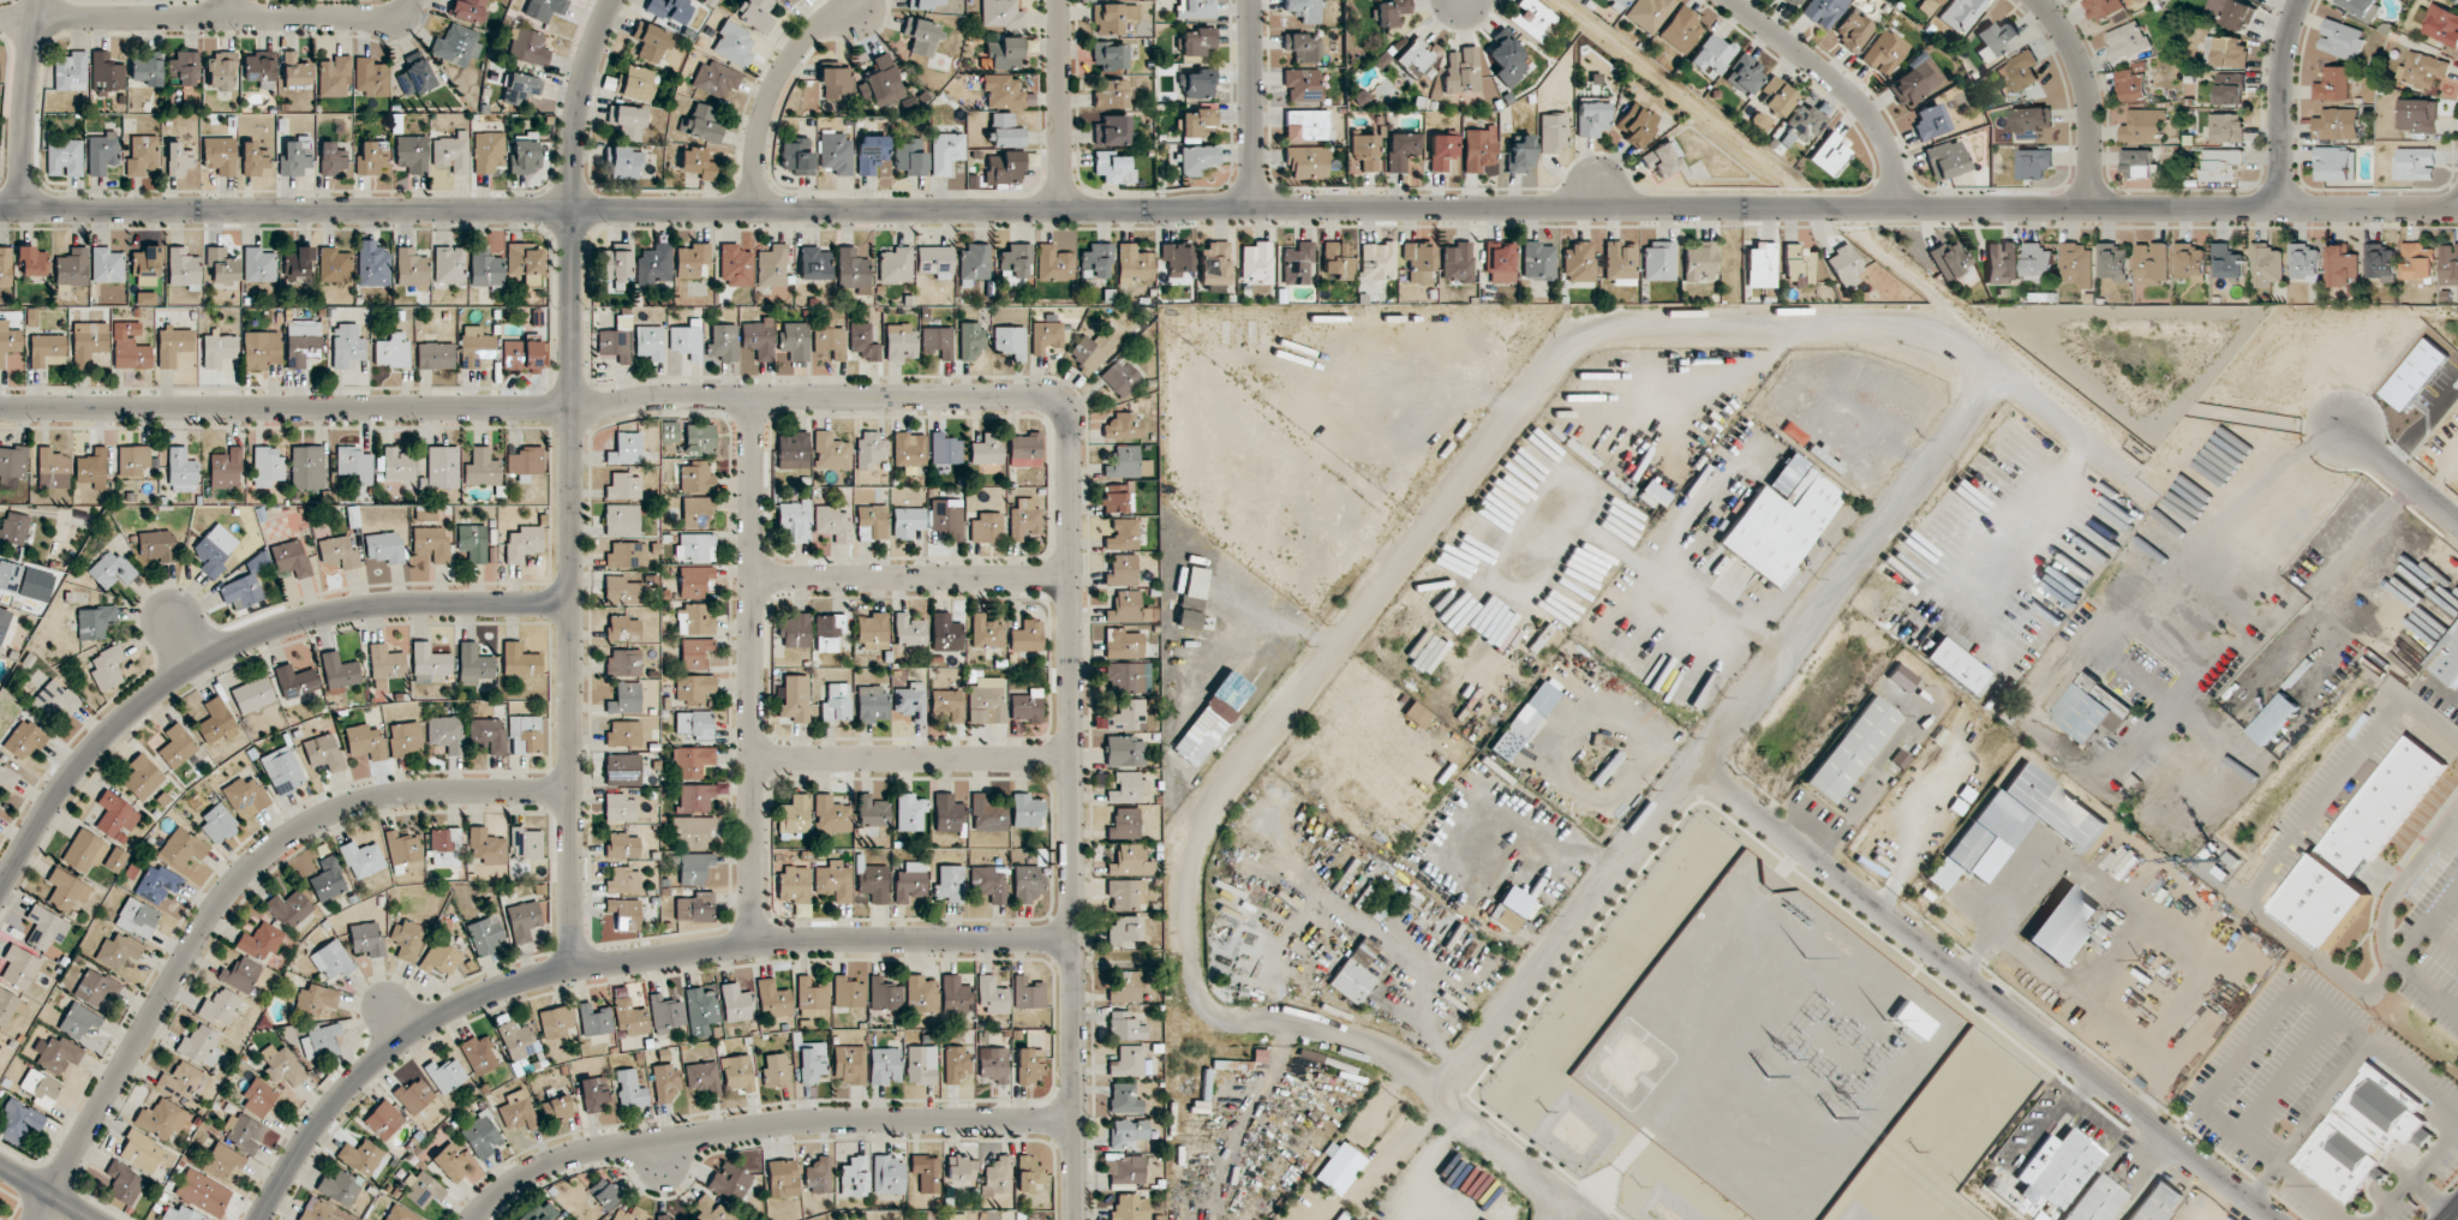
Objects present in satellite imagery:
building: (791, 1)
building: (1794, 1)
building: (923, 4)
building: (1619, 4)
building: (1927, 6)
building: (544, 8)
building: (670, 8)
building: (1196, 8)
building: (2105, 8)
building: (2362, 8)
road: (226, 10)
building: (468, 10)
building: (1303, 10)
building: (1823, 11)
building: (1392, 12)
building: (2232, 12)
building: (1001, 13)
building: (1649, 13)
building: (1961, 13)
building: (756, 14)
building: (1112, 17)
building: (1531, 18)
road: (213, 19)
building: (2441, 25)
building: (1681, 29)
building: (1853, 31)
building: (921, 36)
building: (1996, 40)
building: (2342, 40)
building: (1197, 41)
building: (2128, 41)
building: (650, 42)
building: (457, 44)
building: (734, 44)
building: (527, 47)
building: (1302, 47)
building: (1884, 50)
building: (2231, 52)
building: (1005, 53)
building: (1711, 55)
building: (1111, 56)
building: (1415, 56)
building: (1507, 60)
building: (185, 67)
building: (259, 68)
building: (221, 70)
building: (1461, 70)
building: (2423, 70)
building: (71, 71)
building: (146, 71)
building: (106, 72)
building: (2019, 73)
building: (415, 74)
building: (1745, 74)
building: (335, 76)
building: (371, 77)
building: (716, 79)
building: (881, 82)
building: (1915, 82)
building: (634, 83)
building: (836, 83)
building: (1197, 84)
building: (1302, 84)
road: (1841, 84)
building: (2336, 84)
building: (2133, 85)
building: (520, 86)
building: (2231, 89)
building: (1003, 91)
road: (783, 92)
building: (1110, 94)
building: (1776, 96)
road: (2086, 96)
road: (23, 102)
road: (1060, 103)
road: (1251, 103)
road: (2281, 103)
building: (2417, 115)
building: (1591, 119)
building: (627, 120)
building: (2031, 120)
building: (1802, 121)
building: (1930, 122)
building: (701, 124)
building: (1635, 124)
building: (2337, 124)
building: (1306, 125)
building: (2143, 126)
building: (2227, 127)
building: (1006, 131)
building: (1112, 131)
building: (1553, 133)
building: (1403, 150)
building: (1479, 150)
building: (488, 151)
building: (946, 151)
building: (1364, 151)
building: (1442, 151)
building: (102, 152)
building: (451, 152)
building: (835, 152)
building: (412, 154)
building: (525, 154)
building: (871, 154)
building: (1829, 154)
building: (142, 155)
building: (220, 155)
building: (796, 155)
building: (1520, 155)
building: (295, 156)
building: (910, 156)
building: (64, 157)
building: (331, 159)
building: (372, 159)
building: (1197, 159)
building: (178, 160)
building: (253, 160)
building: (1661, 160)
building: (1946, 160)
building: (623, 162)
building: (1305, 162)
building: (698, 163)
building: (2035, 163)
building: (2137, 163)
building: (2416, 163)
building: (2221, 165)
building: (2336, 165)
building: (1005, 167)
building: (1113, 167)
road: (1228, 207)
building: (525, 258)
building: (1177, 258)
building: (1949, 259)
building: (693, 261)
building: (934, 261)
building: (1096, 261)
building: (1336, 261)
building: (1377, 261)
building: (1538, 261)
building: (1579, 261)
building: (1659, 261)
building: (2304, 261)
building: (2417, 261)
building: (31, 262)
building: (146, 262)
building: (1215, 262)
building: (1419, 262)
building: (1458, 262)
building: (1500, 262)
building: (1620, 262)
building: (1699, 262)
building: (2002, 262)
building: (2038, 262)
building: (2113, 262)
building: (2190, 262)
building: (2227, 262)
building: (2380, 262)
building: (298, 263)
building: (814, 263)
building: (975, 263)
building: (1256, 263)
building: (2153, 263)
building: (372, 264)
building: (449, 264)
building: (654, 264)
building: (896, 264)
building: (1054, 264)
building: (1135, 264)
building: (1298, 264)
building: (1798, 264)
building: (2450, 264)
building: (107, 265)
building: (222, 265)
building: (259, 265)
building: (334, 265)
building: (615, 265)
building: (735, 265)
building: (772, 265)
building: (1760, 265)
building: (1844, 265)
building: (2077, 265)
building: (2266, 265)
building: (2343, 265)
building: (72, 267)
building: (183, 267)
building: (5, 268)
building: (412, 268)
building: (485, 268)
building: (853, 270)
building: (145, 298)
building: (1046, 336)
building: (759, 339)
building: (8, 340)
building: (687, 340)
building: (795, 340)
building: (970, 340)
building: (650, 341)
building: (830, 341)
building: (863, 341)
building: (899, 341)
building: (938, 341)
building: (1010, 341)
building: (303, 342)
building: (723, 342)
building: (88, 343)
building: (173, 345)
building: (346, 345)
building: (614, 345)
building: (476, 346)
building: (130, 347)
building: (219, 348)
building: (47, 349)
building: (261, 349)
building: (391, 351)
building: (1092, 351)
building: (435, 355)
building: (521, 355)
building: (1119, 377)
road: (939, 396)
building: (1123, 426)
building: (669, 431)
building: (700, 439)
building: (869, 448)
building: (624, 449)
building: (909, 449)
building: (945, 449)
building: (987, 449)
building: (793, 450)
building: (1024, 450)
building: (830, 451)
building: (1825, 459)
building: (132, 460)
building: (526, 461)
building: (1123, 462)
building: (354, 464)
building: (399, 465)
building: (12, 466)
building: (267, 466)
building: (443, 466)
building: (307, 467)
building: (482, 467)
building: (53, 468)
building: (91, 468)
building: (226, 468)
building: (181, 470)
building: (1787, 474)
building: (694, 477)
road: (1467, 478)
road: (2397, 479)
road: (573, 480)
building: (623, 486)
building: (1652, 494)
building: (1117, 498)
building: (695, 512)
building: (946, 518)
road: (2031, 519)
building: (621, 520)
building: (794, 520)
building: (1024, 520)
building: (832, 522)
building: (872, 522)
building: (907, 522)
building: (1780, 527)
building: (14, 528)
building: (985, 528)
building: (1122, 534)
building: (473, 543)
building: (524, 543)
building: (156, 545)
road: (2225, 545)
building: (695, 546)
building: (384, 548)
building: (214, 550)
building: (339, 554)
building: (627, 555)
building: (292, 558)
building: (110, 569)
building: (1122, 570)
road: (910, 575)
building: (10, 576)
building: (694, 581)
building: (245, 584)
building: (1195, 586)
building: (622, 591)
building: (1126, 608)
building: (694, 620)
building: (1188, 620)
building: (2, 621)
building: (95, 622)
building: (623, 628)
building: (796, 630)
building: (909, 630)
building: (829, 632)
building: (873, 632)
building: (986, 632)
building: (945, 633)
building: (1025, 636)
road: (233, 641)
building: (1123, 645)
building: (695, 652)
building: (520, 660)
building: (2448, 660)
building: (429, 663)
building: (623, 663)
building: (473, 664)
building: (385, 665)
building: (1957, 666)
building: (107, 668)
building: (339, 671)
road: (750, 671)
building: (1126, 677)
building: (1901, 677)
building: (295, 681)
building: (693, 688)
building: (252, 694)
building: (795, 698)
building: (624, 699)
building: (53, 700)
building: (987, 700)
building: (911, 701)
building: (837, 702)
building: (872, 702)
building: (947, 704)
building: (1027, 706)
building: (2093, 707)
building: (1417, 714)
building: (1126, 716)
building: (2275, 718)
building: (215, 719)
building: (1210, 719)
building: (1524, 720)
building: (694, 724)
building: (445, 732)
road: (1723, 732)
building: (526, 734)
building: (623, 734)
building: (489, 735)
building: (24, 738)
building: (405, 738)
building: (365, 742)
building: (177, 746)
building: (1852, 748)
building: (1125, 750)
building: (324, 752)
road: (911, 754)
building: (692, 761)
building: (282, 770)
building: (622, 770)
building: (142, 777)
building: (7, 778)
building: (1125, 788)
building: (245, 796)
building: (695, 797)
building: (620, 807)
building: (872, 811)
building: (1025, 811)
building: (910, 812)
building: (947, 813)
building: (795, 814)
building: (988, 814)
building: (831, 815)
building: (116, 817)
building: (217, 824)
building: (1124, 824)
building: (2016, 824)
building: (693, 831)
building: (2361, 843)
building: (526, 844)
building: (622, 845)
building: (444, 847)
building: (486, 847)
building: (181, 848)
building: (402, 848)
building: (84, 850)
building: (361, 859)
building: (115, 860)
building: (1130, 861)
building: (694, 867)
building: (328, 879)
building: (623, 880)
building: (835, 880)
building: (874, 881)
building: (910, 881)
building: (950, 883)
building: (988, 883)
building: (157, 884)
building: (794, 884)
building: (1027, 884)
building: (66, 890)
building: (1125, 893)
road: (226, 895)
building: (1377, 899)
building: (695, 907)
building: (291, 908)
building: (1511, 908)
building: (624, 914)
building: (137, 917)
building: (522, 920)
building: (2063, 923)
building: (44, 927)
building: (1124, 931)
building: (485, 934)
building: (366, 938)
building: (407, 939)
building: (261, 940)
building: (118, 951)
building: (439, 957)
building: (331, 959)
road: (614, 963)
building: (19, 967)
building: (1354, 973)
building: (240, 974)
building: (1124, 986)
building: (96, 988)
building: (848, 992)
building: (920, 993)
building: (1028, 993)
road: (1986, 993)
building: (884, 994)
building: (953, 994)
building: (992, 997)
building: (811, 998)
building: (316, 999)
building: (772, 999)
building: (736, 1003)
road: (2280, 1005)
building: (6, 1006)
building: (220, 1006)
building: (701, 1011)
building: (665, 1012)
building: (628, 1015)
building: (594, 1019)
building: (1912, 1019)
building: (78, 1021)
building: (555, 1022)
building: (1125, 1027)
building: (321, 1039)
building: (518, 1040)
building: (201, 1046)
building: (58, 1054)
building: (479, 1054)
building: (811, 1061)
building: (1126, 1061)
building: (849, 1064)
building: (921, 1064)
building: (955, 1064)
building: (993, 1064)
building: (281, 1065)
building: (884, 1065)
building: (1029, 1065)
building: (776, 1070)
building: (737, 1072)
road: (1407, 1072)
building: (445, 1075)
building: (702, 1077)
building: (179, 1081)
building: (665, 1081)
building: (40, 1087)
building: (630, 1089)
building: (593, 1094)
building: (414, 1095)
building: (258, 1098)
building: (1124, 1098)
building: (560, 1106)
building: (518, 1111)
building: (161, 1118)
building: (19, 1119)
building: (383, 1119)
road: (760, 1122)
building: (2366, 1131)
building: (240, 1132)
building: (1128, 1132)
building: (482, 1136)
building: (142, 1153)
building: (360, 1156)
building: (223, 1160)
building: (450, 1161)
road: (1387, 1162)
building: (961, 1167)
building: (1338, 1167)
building: (1123, 1168)
building: (927, 1173)
building: (999, 1173)
building: (1028, 1173)
building: (889, 1174)
building: (2051, 1174)
building: (818, 1176)
building: (854, 1177)
building: (783, 1178)
building: (730, 1180)
road: (2261, 1182)
building: (122, 1183)
building: (340, 1188)
building: (421, 1189)
building: (203, 1192)
building: (604, 1192)
road: (46, 1194)
road: (2393, 1200)
road: (2435, 1200)
building: (2095, 1201)
building: (2157, 1202)
road: (1543, 1206)
building: (1129, 1207)
building: (710, 1209)
building: (318, 1212)
building: (540, 1212)
building: (181, 1214)
building: (400, 1214)
building: (630, 1214)
building: (1341, 1215)
building: (664, 1216)

